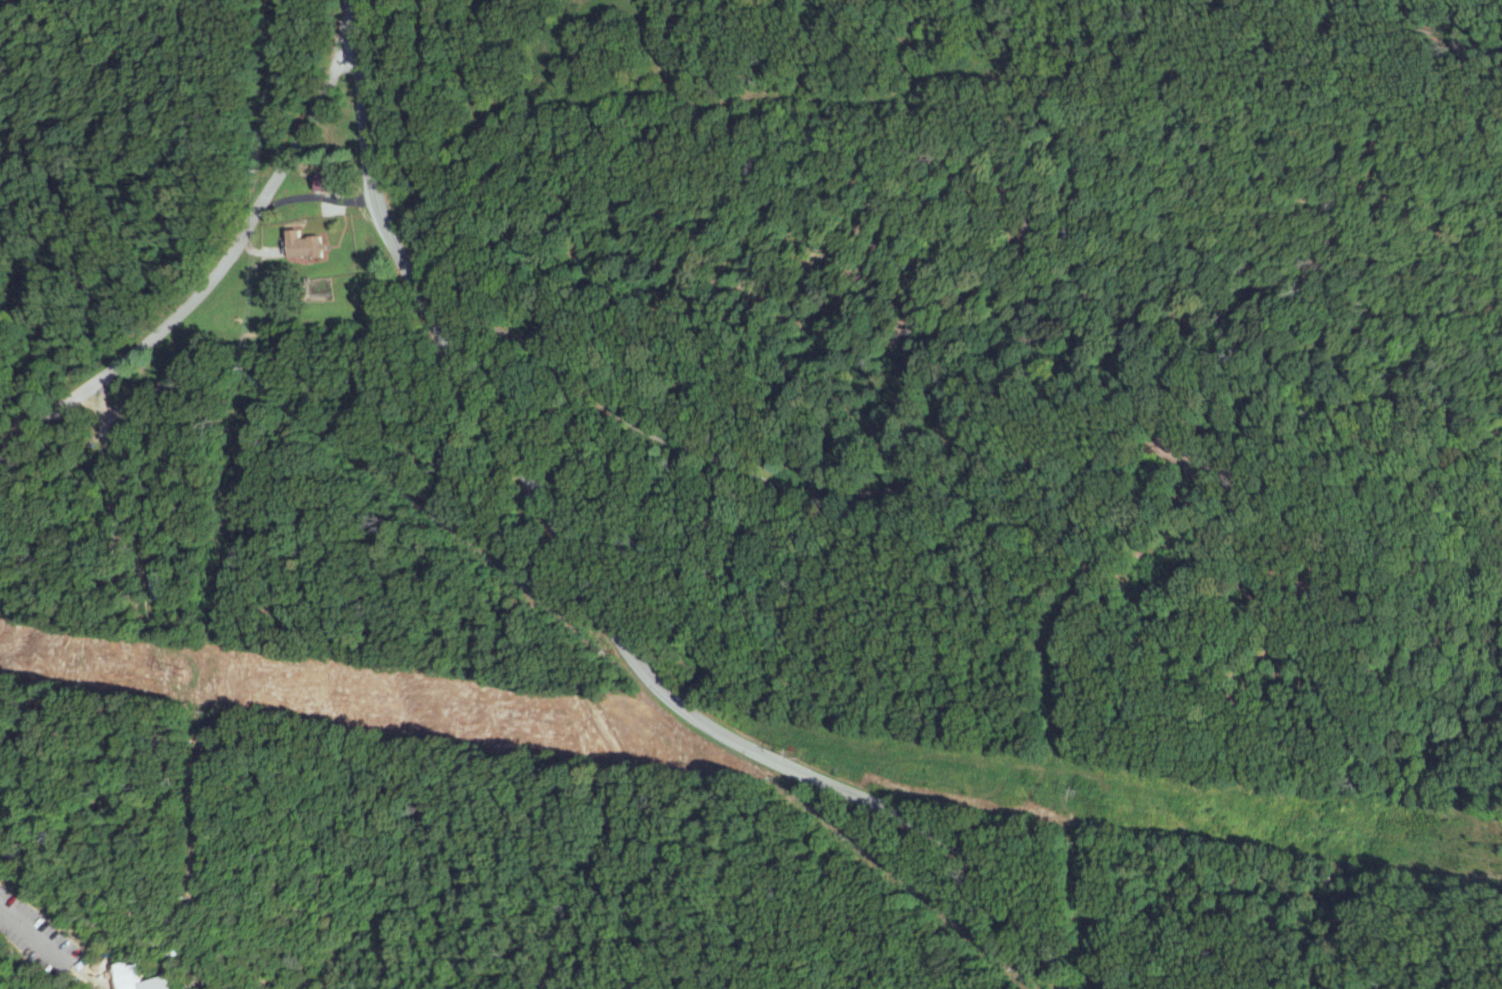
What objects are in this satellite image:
building: (332, 181)
road: (318, 197)
building: (308, 244)
road: (215, 280)
road: (767, 467)
road: (124, 488)
road: (596, 585)
power tower: (187, 673)
power tower: (798, 757)
power tower: (1083, 791)
road: (54, 937)
building: (144, 978)

